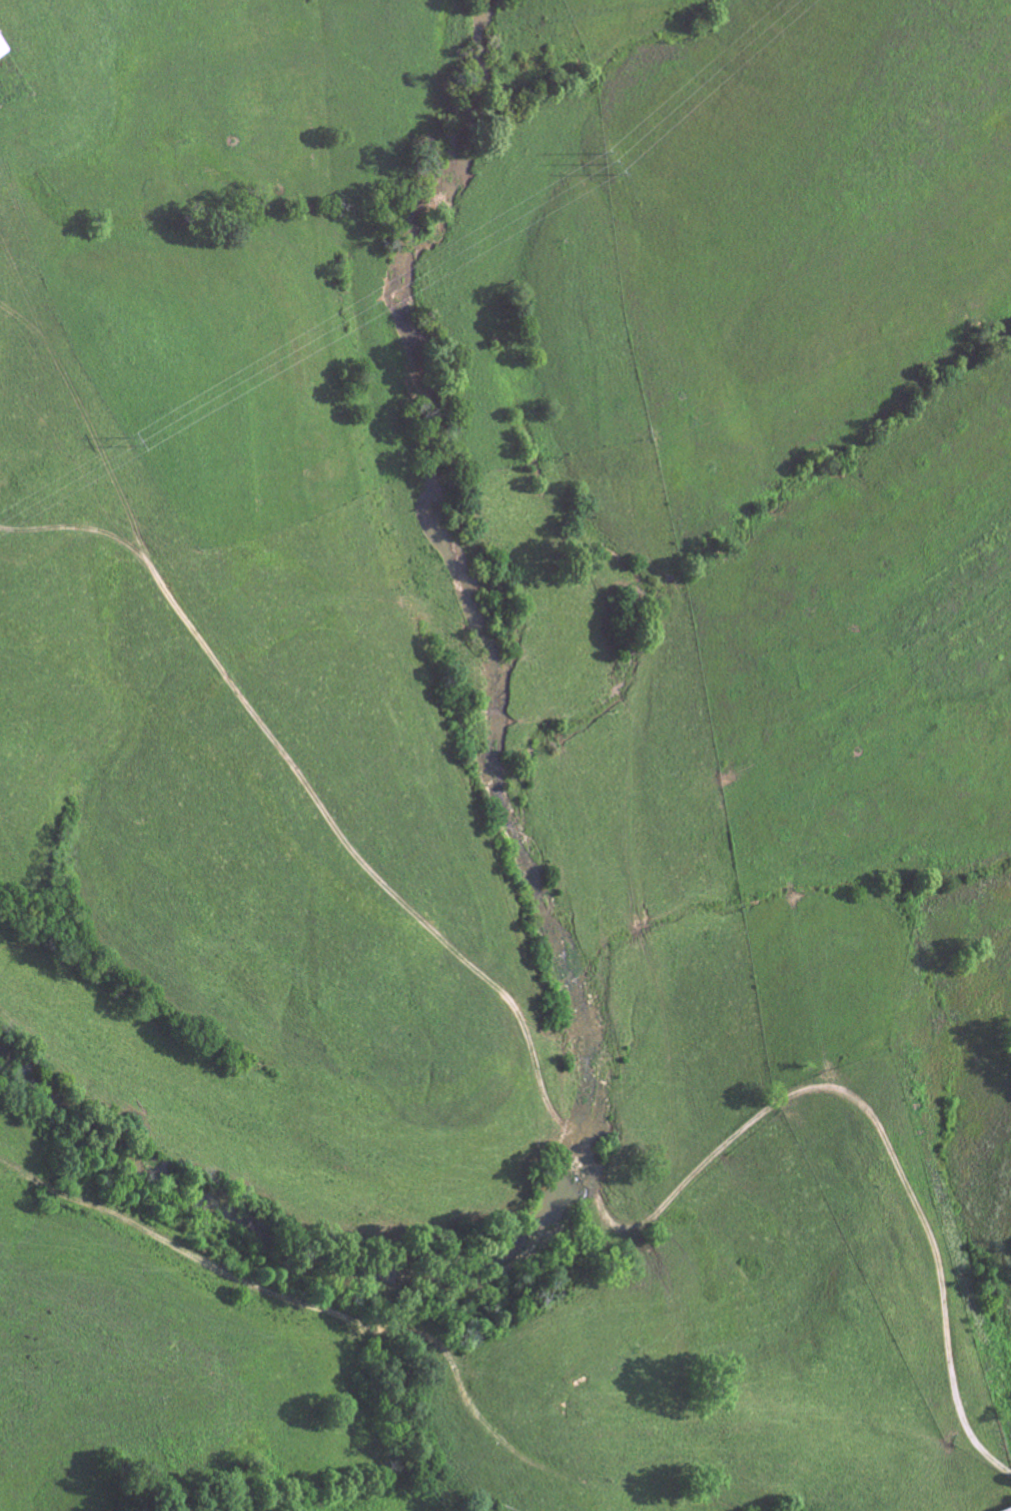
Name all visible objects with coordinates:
power tower: (135, 440)
building: (1010, 1510)

